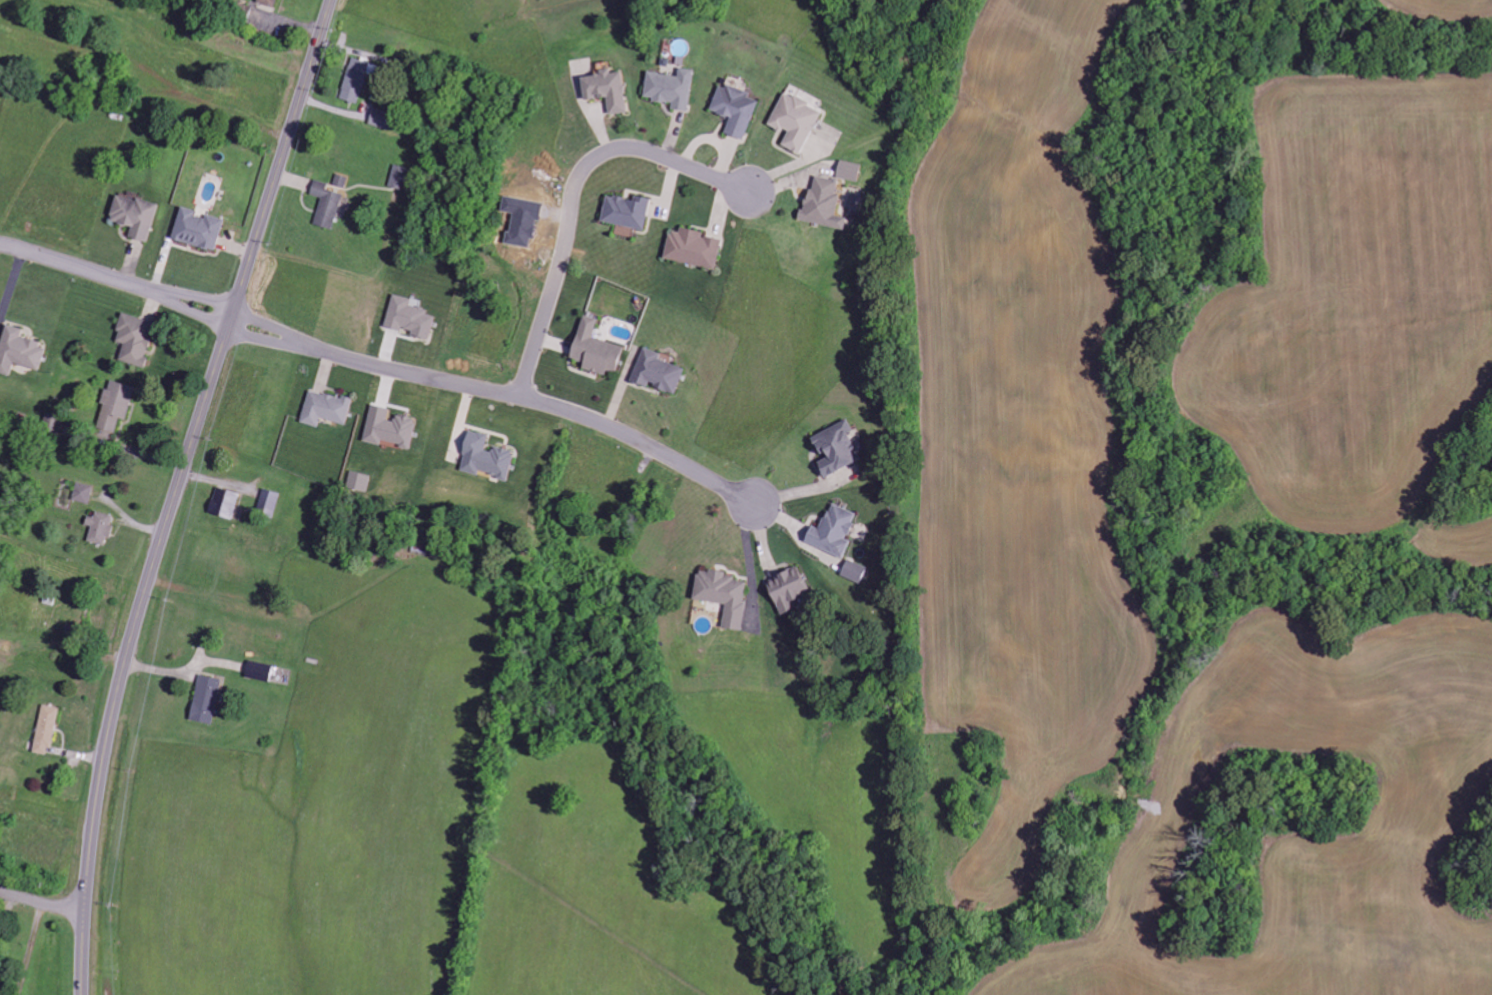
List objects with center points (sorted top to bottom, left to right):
building: (267, 2)
building: (240, 11)
building: (354, 81)
building: (670, 88)
building: (605, 90)
building: (734, 110)
building: (380, 119)
building: (794, 121)
building: (848, 171)
building: (398, 177)
road: (575, 194)
building: (822, 204)
building: (326, 205)
building: (625, 212)
building: (133, 217)
building: (196, 229)
building: (692, 249)
road: (117, 280)
building: (408, 318)
building: (133, 340)
building: (594, 350)
building: (18, 351)
building: (656, 373)
road: (503, 393)
building: (114, 406)
building: (324, 409)
building: (52, 425)
building: (388, 429)
building: (835, 448)
building: (484, 458)
building: (358, 482)
road: (177, 490)
building: (82, 493)
crop: (1210, 494)
building: (224, 503)
building: (268, 503)
building: (99, 528)
building: (832, 530)
building: (854, 571)
building: (786, 589)
building: (722, 594)
building: (5, 648)
building: (258, 671)
building: (205, 699)
building: (45, 729)
road: (42, 901)

